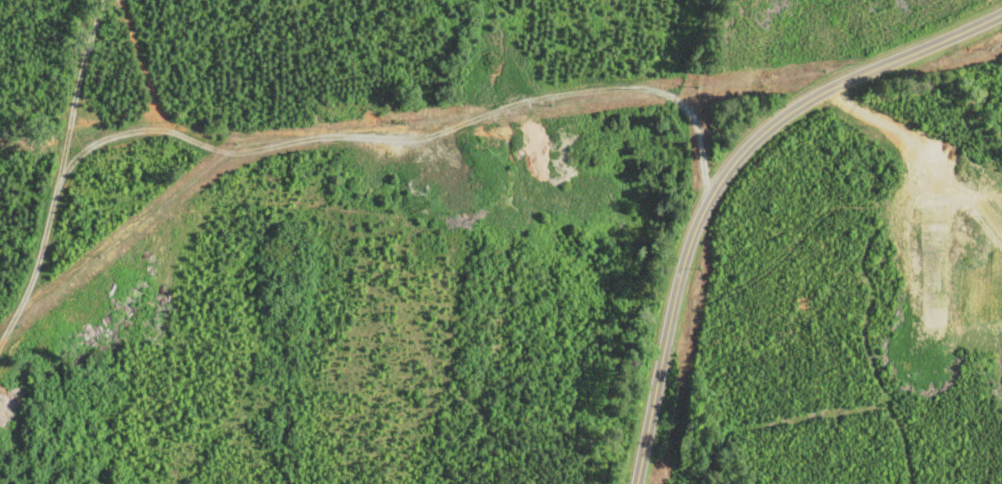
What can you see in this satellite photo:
road: (729, 178)

